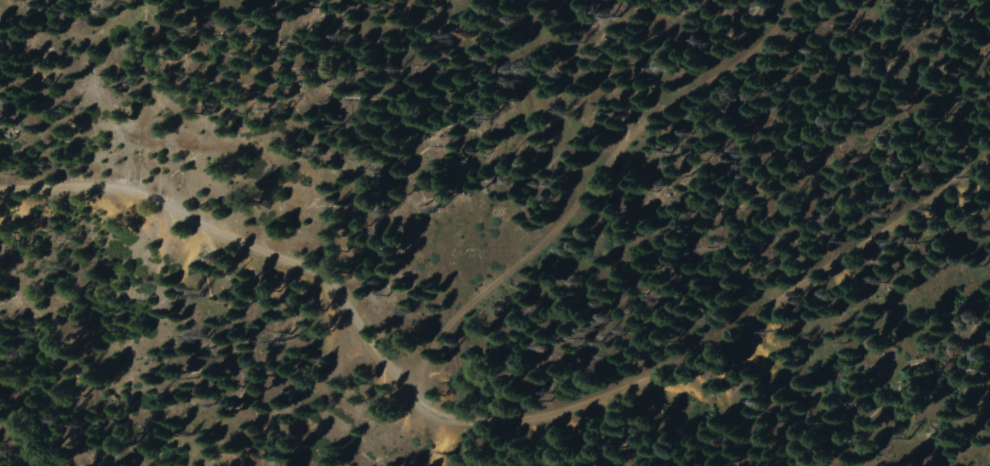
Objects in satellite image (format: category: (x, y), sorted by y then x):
road: (507, 437)

